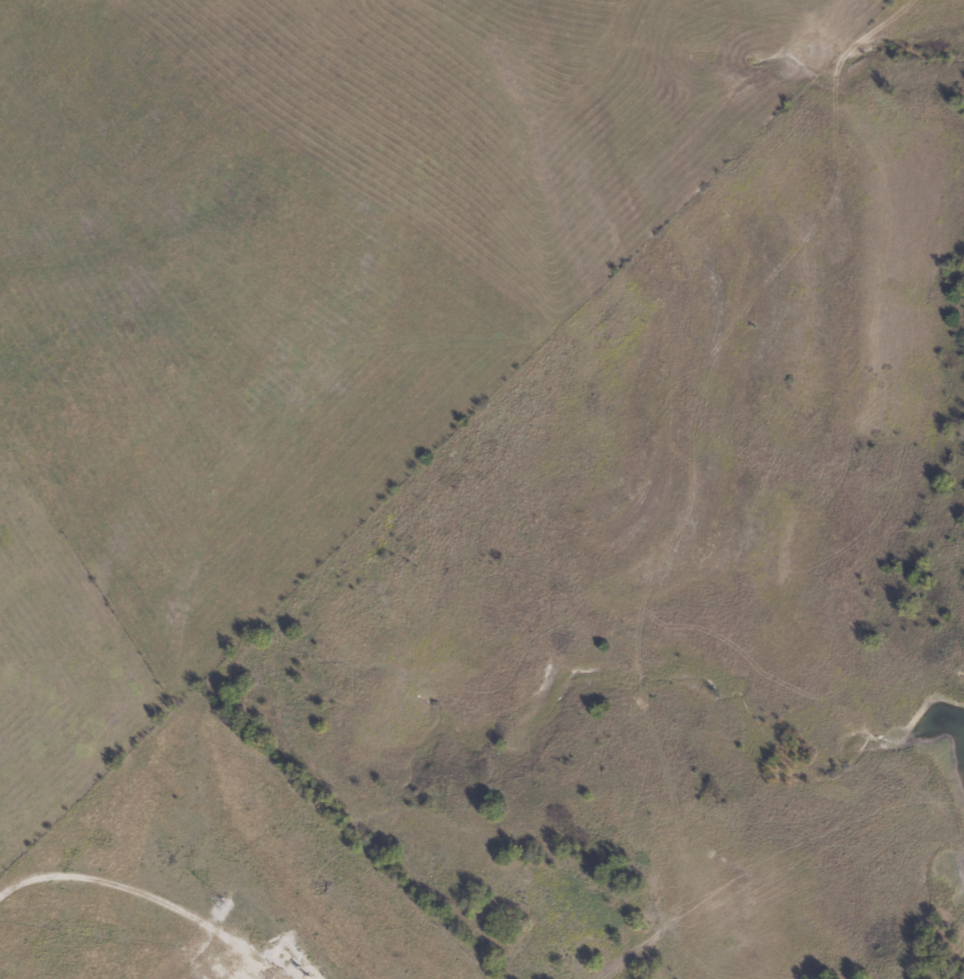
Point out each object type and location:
road: (138, 896)

